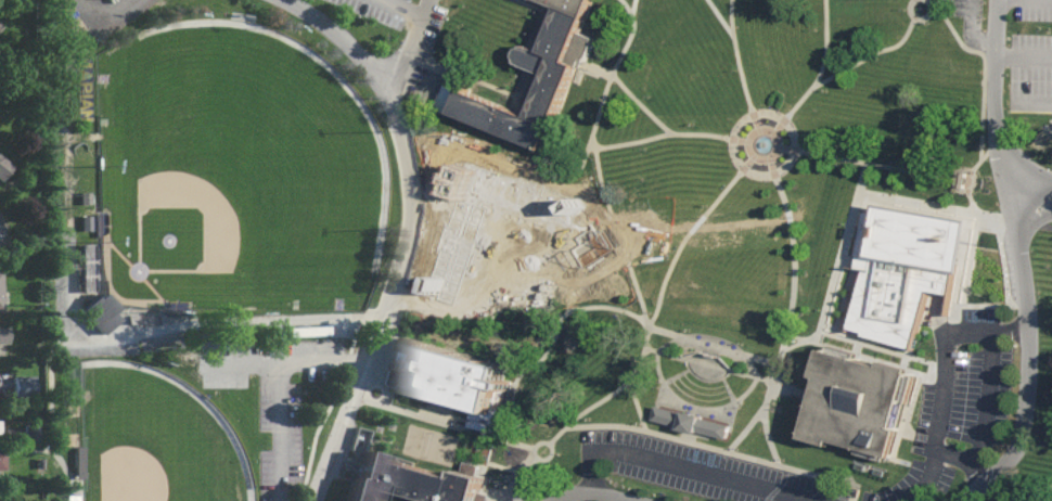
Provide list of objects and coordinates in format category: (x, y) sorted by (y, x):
road: (935, 3)
road: (732, 8)
road: (533, 9)
road: (397, 10)
parking lot: (967, 10)
road: (921, 16)
road: (630, 21)
parking lot: (398, 24)
road: (634, 36)
parking lot: (1032, 40)
building: (941, 43)
road: (347, 46)
road: (871, 52)
road: (992, 52)
road: (737, 65)
road: (822, 66)
road: (600, 68)
building: (941, 70)
road: (464, 74)
road: (615, 75)
building: (559, 77)
building: (1035, 89)
road: (753, 114)
road: (982, 114)
road: (662, 133)
fountain: (764, 144)
park: (252, 157)
road: (479, 157)
road: (408, 158)
road: (872, 162)
building: (2, 166)
road: (1029, 179)
building: (81, 197)
road: (962, 201)
road: (907, 204)
road: (1034, 206)
road: (479, 207)
road: (610, 208)
building: (80, 222)
building: (0, 239)
road: (477, 248)
parking lot: (480, 248)
road: (835, 249)
road: (555, 253)
road: (1024, 258)
road: (672, 265)
building: (88, 268)
building: (906, 269)
road: (469, 294)
building: (104, 311)
road: (564, 314)
building: (146, 318)
road: (181, 325)
building: (3, 335)
road: (715, 342)
road: (859, 342)
road: (247, 362)
building: (454, 375)
road: (764, 377)
parking lot: (967, 385)
road: (281, 387)
road: (619, 387)
road: (944, 387)
road: (988, 387)
building: (18, 388)
parking lot: (273, 396)
building: (868, 404)
road: (692, 406)
road: (349, 409)
road: (501, 411)
road: (425, 419)
building: (694, 421)
road: (690, 425)
road: (317, 427)
road: (745, 433)
road: (770, 437)
road: (497, 439)
park: (155, 440)
road: (549, 446)
road: (52, 452)
building: (74, 462)
building: (80, 463)
building: (0, 464)
road: (689, 466)
building: (34, 467)
parking lot: (698, 468)
road: (808, 476)
road: (928, 477)
building: (414, 480)
road: (521, 480)
road: (600, 493)

